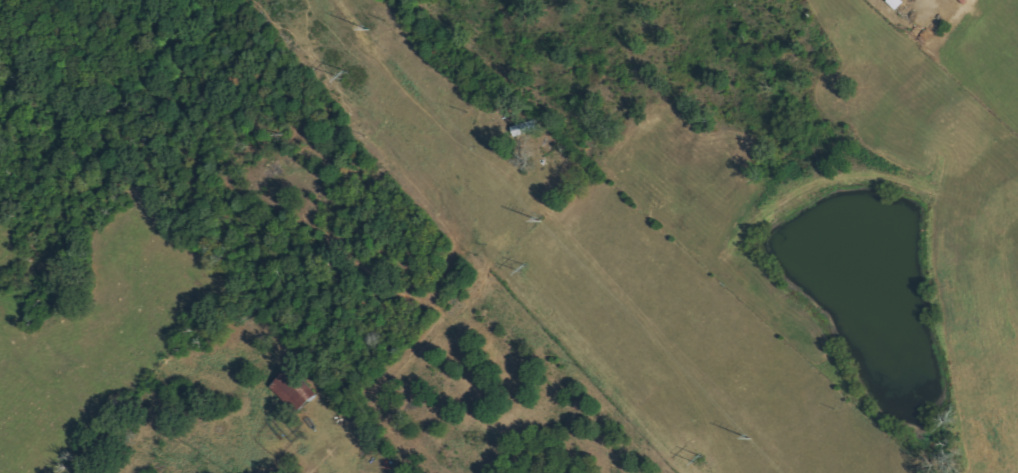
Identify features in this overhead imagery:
power tower: (365, 32)
power tower: (338, 77)
building: (526, 129)
power tower: (539, 222)
power tower: (520, 270)
building: (296, 390)
power tower: (751, 439)
power tower: (698, 459)

